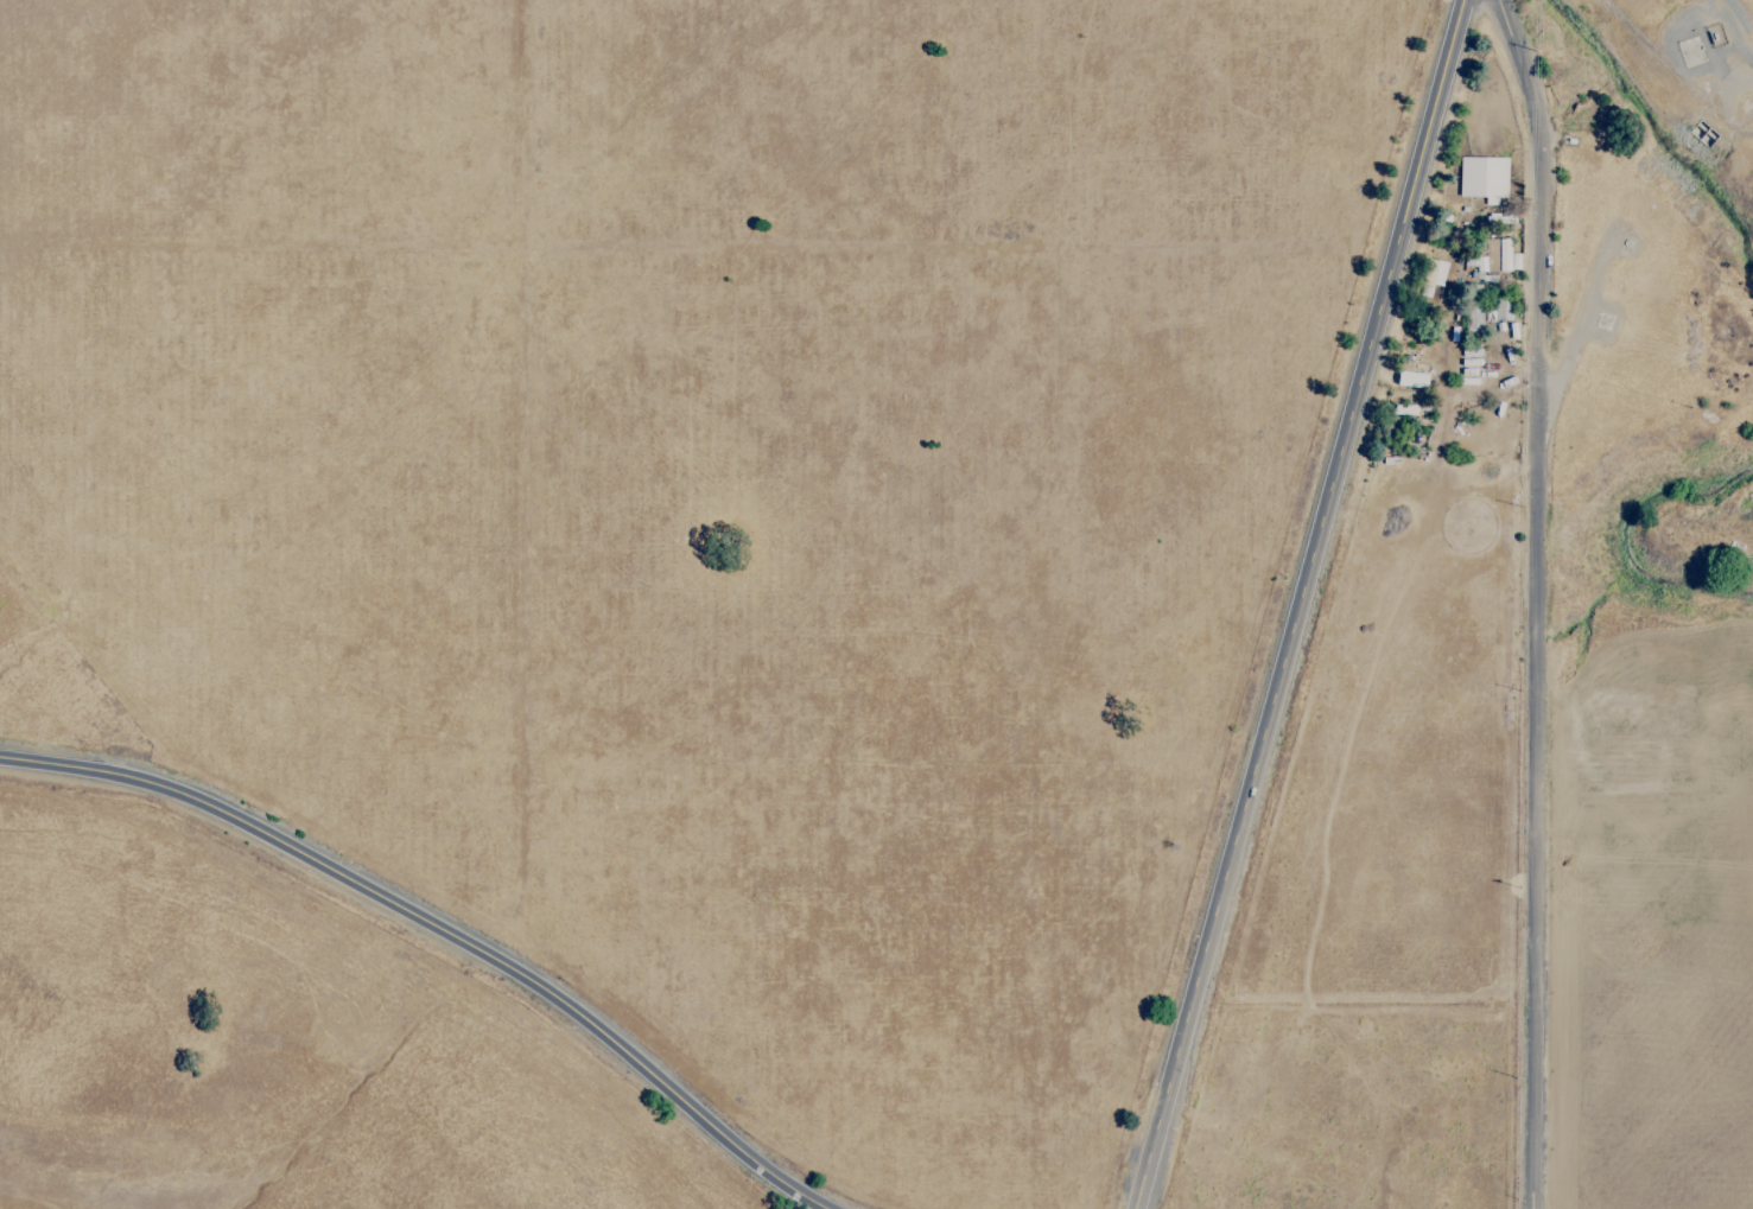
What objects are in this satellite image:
road: (1736, 82)
building: (1411, 380)
park: (652, 579)
road: (1536, 599)
road: (1295, 602)
road: (440, 931)

